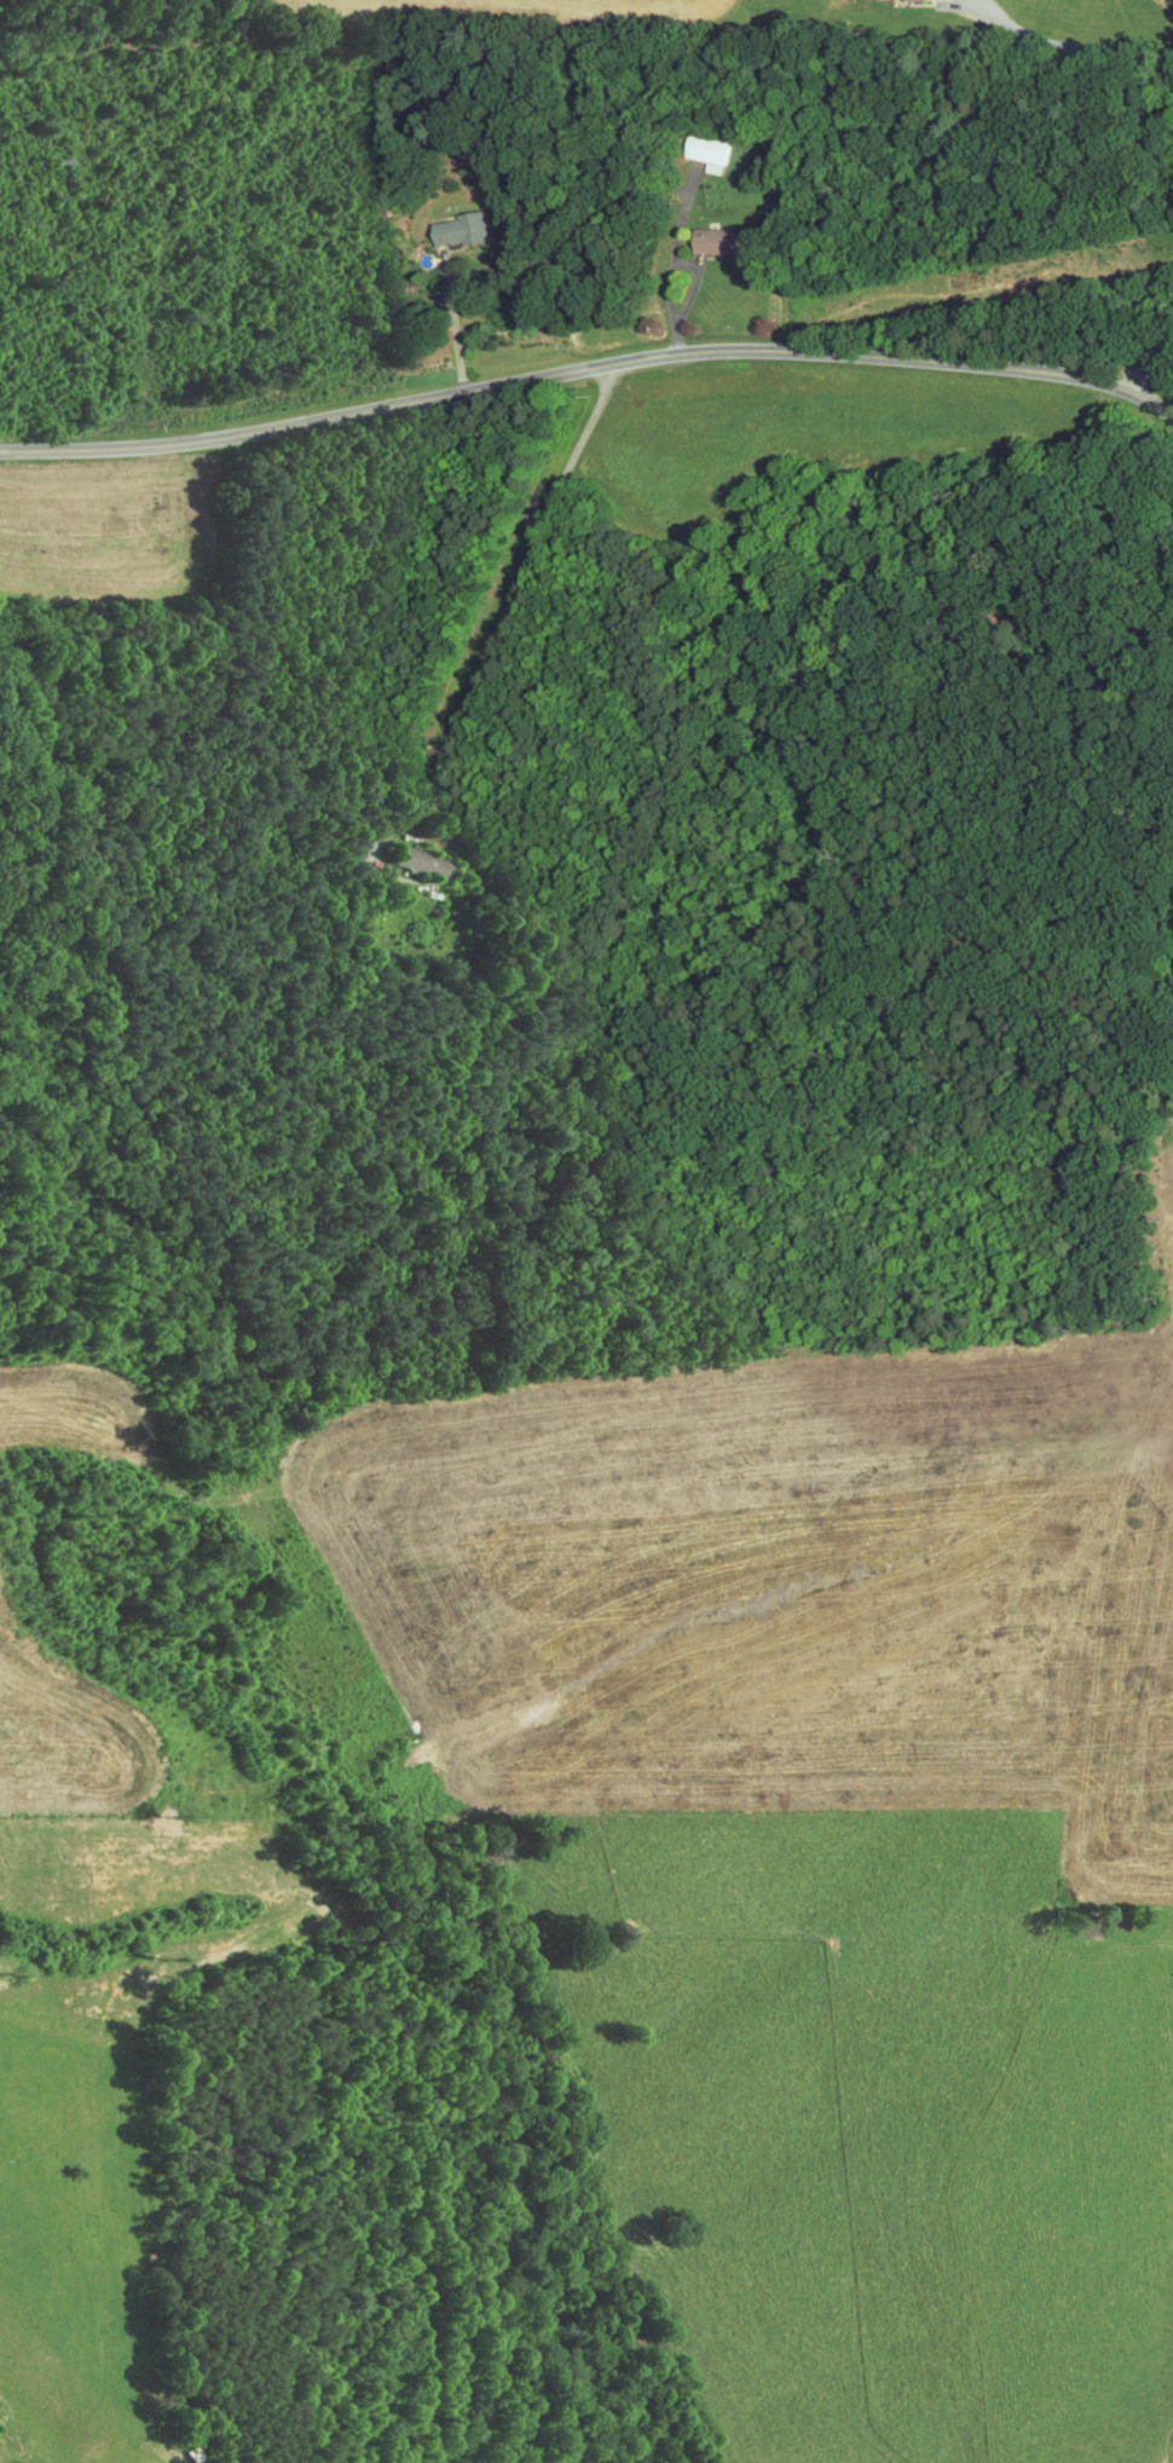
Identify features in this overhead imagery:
road: (1062, 38)
building: (699, 146)
building: (452, 223)
building: (712, 233)
road: (1143, 362)
road: (588, 364)
road: (505, 610)
building: (406, 854)

